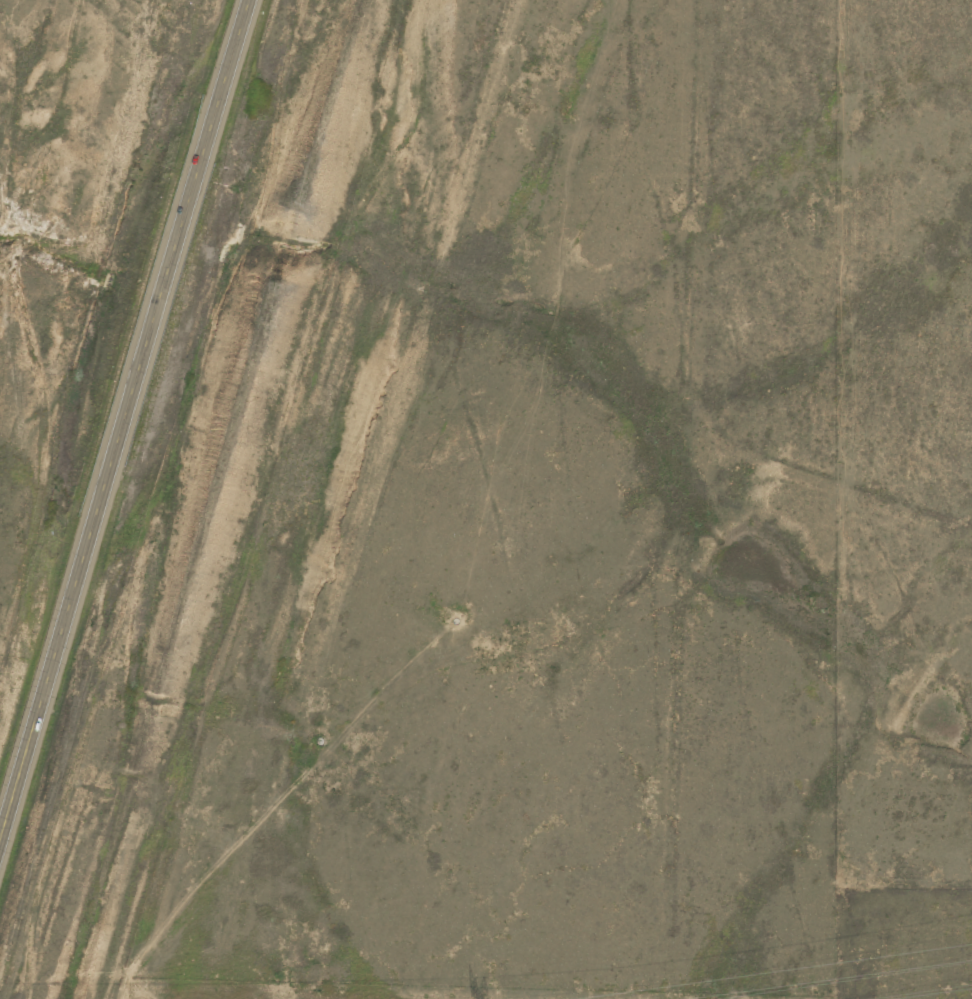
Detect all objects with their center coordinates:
road: (123, 412)

